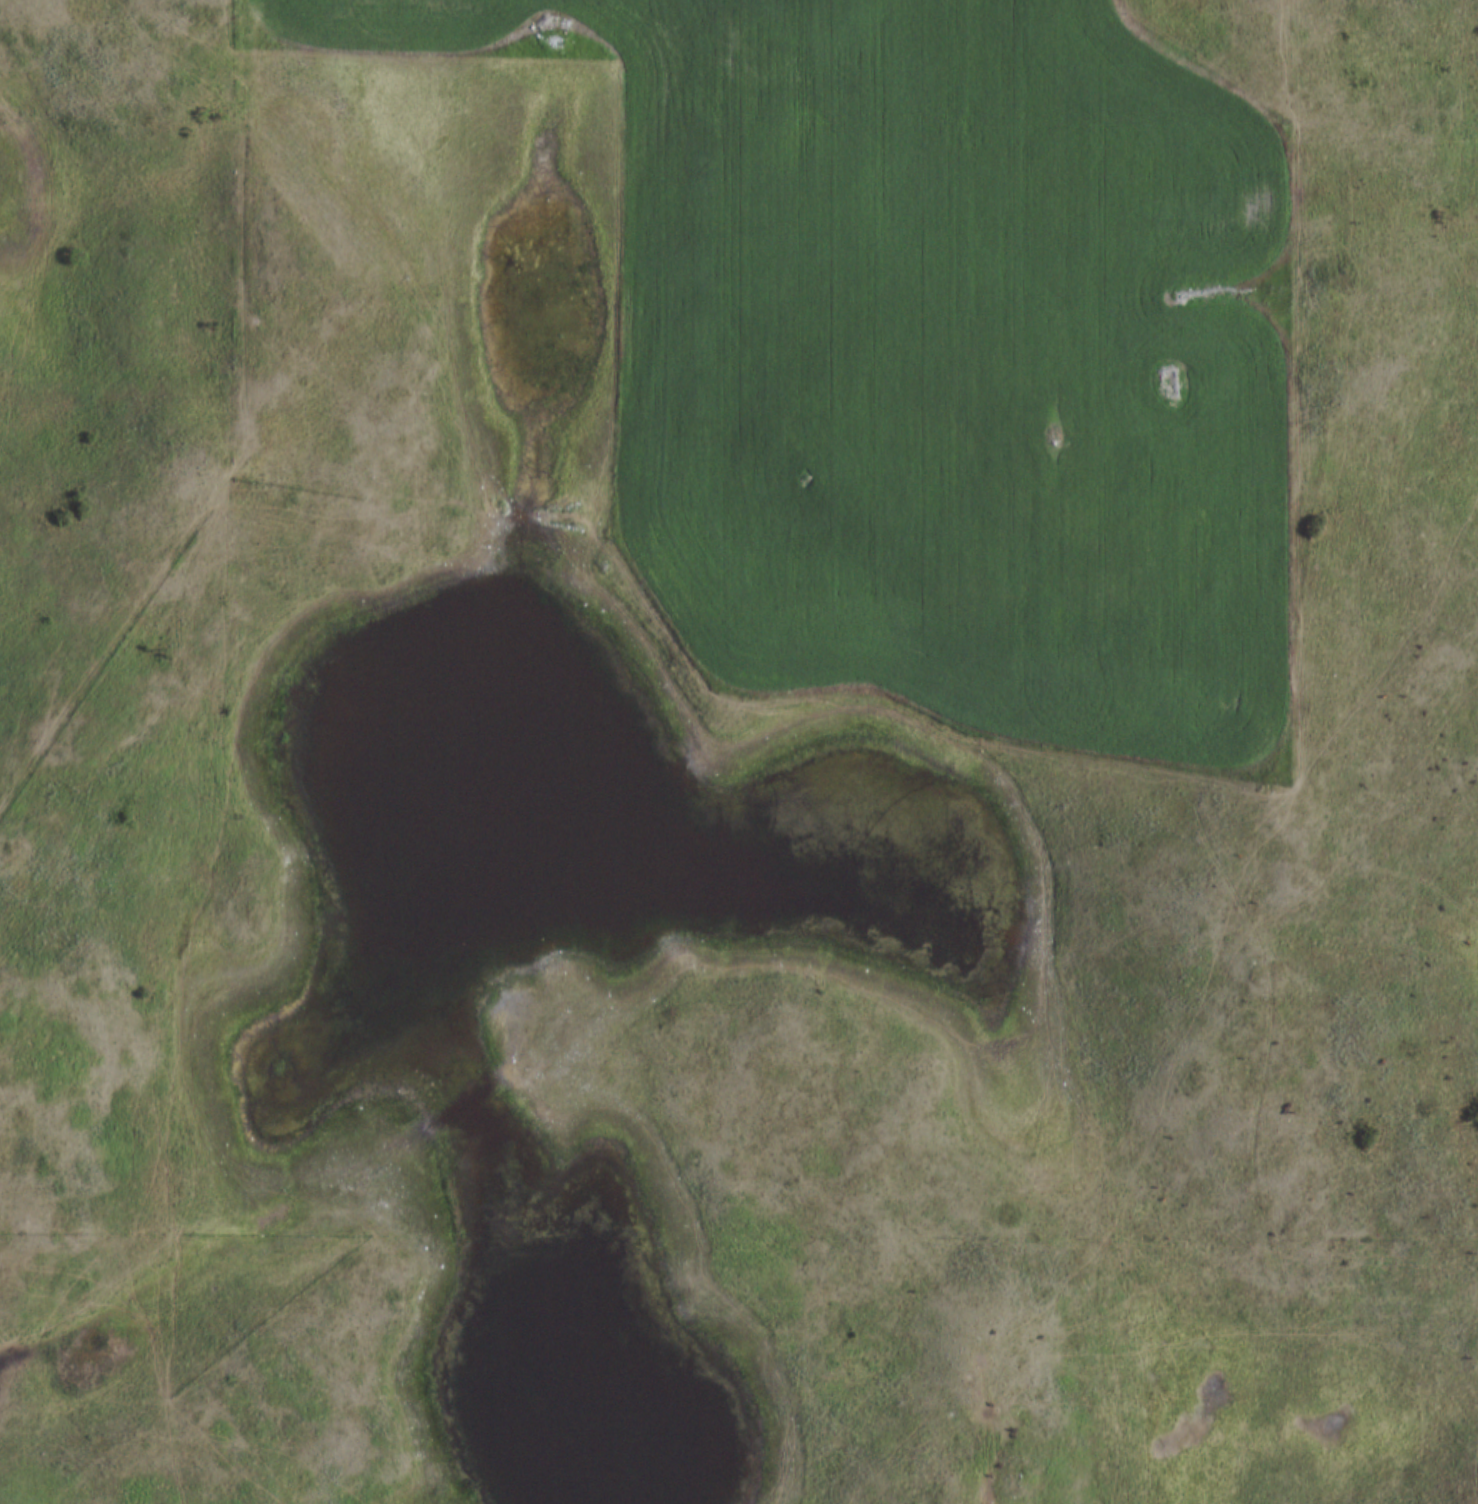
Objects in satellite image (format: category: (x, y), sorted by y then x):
road: (251, 442)

